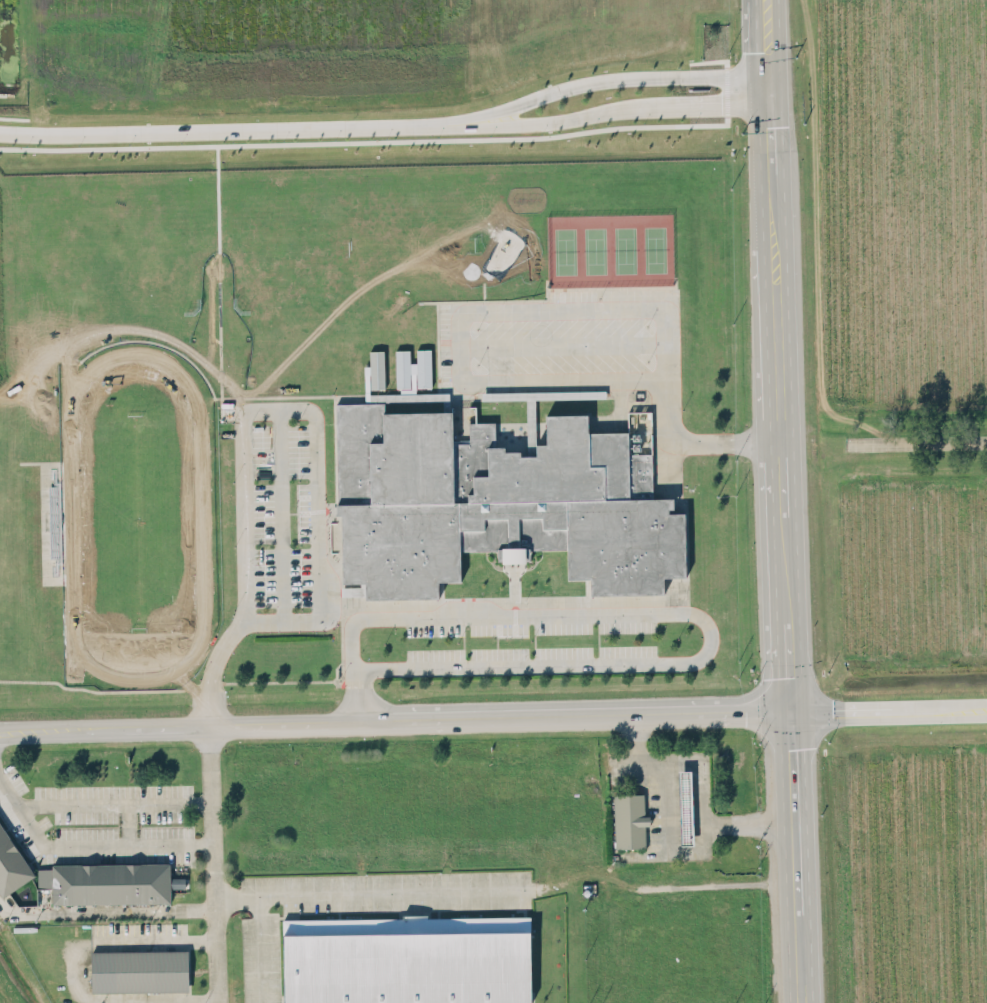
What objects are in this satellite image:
road: (766, 37)
road: (619, 77)
road: (623, 110)
road: (239, 128)
road: (769, 156)
road: (773, 263)
road: (536, 312)
road: (776, 363)
building: (412, 368)
building: (375, 370)
road: (917, 443)
road: (316, 468)
road: (779, 476)
crop: (908, 483)
building: (498, 497)
parking lot: (279, 512)
road: (280, 512)
road: (785, 612)
road: (694, 613)
parking lot: (531, 640)
road: (887, 710)
traffic signals: (788, 711)
road: (707, 712)
road: (497, 716)
road: (287, 721)
road: (157, 725)
road: (53, 728)
road: (660, 759)
road: (698, 770)
road: (113, 803)
building: (684, 807)
gas station: (684, 807)
road: (790, 809)
road: (685, 819)
road: (740, 819)
parking lot: (98, 820)
building: (628, 820)
road: (129, 823)
road: (86, 844)
road: (212, 861)
building: (11, 863)
building: (111, 882)
road: (370, 893)
parking lot: (353, 907)
road: (105, 912)
road: (153, 939)
road: (259, 949)
road: (795, 955)
building: (407, 959)
building: (139, 970)
road: (115, 1001)

